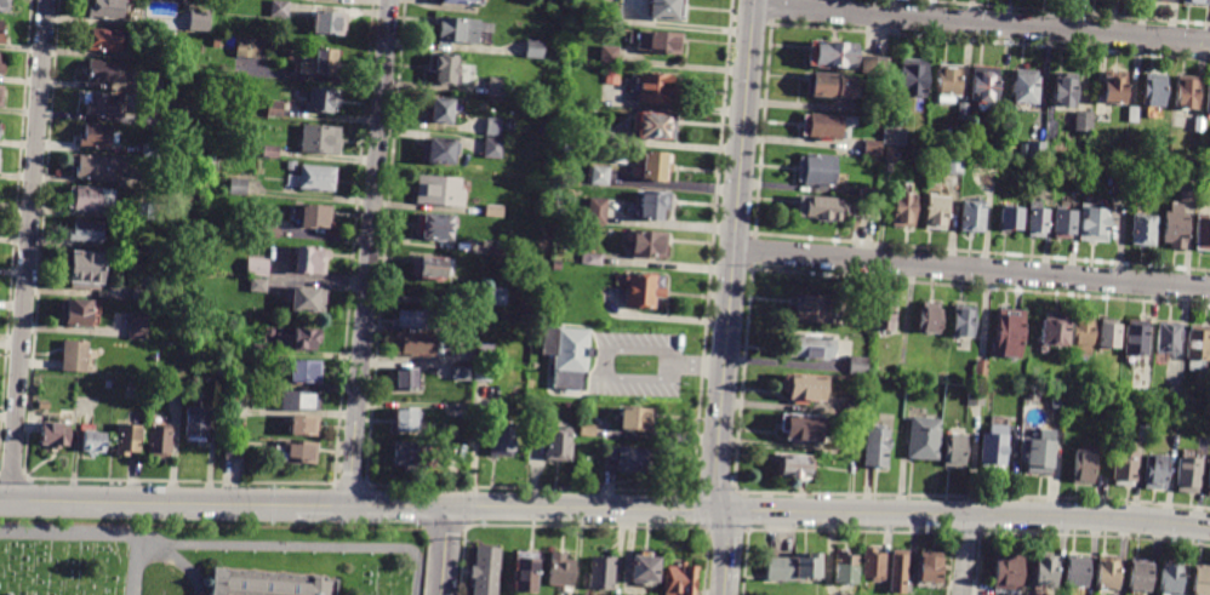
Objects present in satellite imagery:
building: (1164, 0)
building: (453, 2)
building: (1195, 2)
building: (4, 5)
building: (279, 8)
building: (105, 10)
building: (668, 11)
building: (613, 15)
building: (199, 21)
road: (982, 23)
building: (329, 25)
building: (460, 30)
building: (1, 34)
building: (104, 40)
building: (216, 42)
building: (658, 42)
building: (249, 48)
building: (533, 48)
building: (570, 53)
building: (609, 55)
building: (832, 57)
building: (325, 62)
building: (874, 65)
building: (1, 68)
building: (443, 69)
building: (571, 70)
building: (104, 73)
building: (611, 76)
building: (912, 76)
building: (948, 84)
building: (570, 85)
building: (496, 86)
building: (657, 87)
building: (831, 87)
building: (1028, 88)
building: (1114, 88)
building: (984, 90)
building: (1154, 91)
building: (0, 92)
building: (1063, 92)
building: (1187, 93)
building: (321, 99)
building: (1208, 99)
building: (105, 105)
building: (275, 108)
building: (439, 111)
building: (963, 113)
building: (1132, 114)
building: (176, 119)
building: (1084, 122)
building: (655, 125)
building: (1199, 125)
building: (492, 126)
building: (823, 126)
building: (95, 136)
building: (601, 137)
building: (319, 138)
building: (892, 138)
building: (491, 148)
building: (872, 148)
building: (272, 149)
building: (438, 149)
building: (1035, 149)
building: (149, 150)
building: (891, 155)
building: (954, 162)
building: (291, 165)
building: (652, 165)
building: (98, 167)
building: (817, 170)
building: (600, 175)
building: (315, 177)
building: (238, 187)
building: (1189, 188)
building: (438, 190)
building: (866, 193)
building: (89, 198)
building: (652, 204)
building: (818, 206)
building: (904, 210)
building: (144, 211)
building: (493, 211)
building: (597, 211)
building: (864, 211)
building: (936, 212)
building: (313, 216)
building: (972, 217)
building: (1010, 218)
building: (1039, 219)
building: (1065, 222)
building: (1094, 223)
building: (433, 225)
building: (1176, 228)
building: (269, 229)
building: (1145, 229)
building: (86, 231)
building: (1203, 233)
building: (646, 242)
road: (27, 248)
building: (491, 248)
road: (369, 251)
road: (731, 254)
building: (590, 258)
building: (309, 259)
building: (555, 265)
building: (198, 267)
building: (256, 267)
building: (429, 267)
building: (86, 269)
road: (971, 269)
building: (257, 285)
building: (644, 290)
building: (139, 293)
building: (496, 296)
building: (304, 298)
building: (814, 308)
building: (76, 313)
building: (883, 314)
building: (526, 317)
building: (929, 317)
building: (416, 319)
building: (961, 320)
building: (137, 326)
building: (1054, 331)
building: (1008, 333)
building: (1081, 336)
building: (1106, 337)
building: (1136, 338)
building: (1169, 338)
building: (297, 339)
building: (417, 344)
building: (1198, 344)
building: (810, 345)
building: (259, 350)
road: (656, 350)
building: (483, 353)
building: (567, 355)
building: (74, 356)
road: (605, 362)
road: (697, 365)
building: (536, 366)
building: (857, 366)
building: (218, 371)
building: (304, 371)
building: (462, 371)
building: (481, 372)
building: (902, 373)
building: (978, 373)
road: (632, 378)
building: (406, 379)
building: (72, 384)
building: (108, 385)
building: (230, 387)
building: (804, 387)
building: (1140, 389)
building: (1175, 395)
building: (230, 397)
building: (975, 397)
building: (299, 400)
building: (1034, 401)
building: (854, 406)
building: (461, 411)
building: (637, 418)
building: (406, 420)
building: (196, 422)
building: (303, 424)
building: (800, 427)
building: (587, 430)
building: (228, 433)
building: (1142, 433)
building: (53, 434)
building: (924, 437)
building: (127, 439)
building: (502, 439)
building: (92, 441)
building: (1174, 441)
building: (158, 442)
building: (558, 445)
building: (850, 446)
building: (877, 447)
building: (993, 447)
building: (233, 450)
building: (955, 450)
building: (295, 452)
building: (1039, 453)
building: (410, 457)
building: (629, 458)
building: (794, 467)
building: (1083, 467)
building: (1123, 469)
building: (1154, 471)
building: (1187, 475)
building: (1209, 480)
road: (175, 499)
road: (399, 503)
traffic signals: (447, 504)
road: (464, 504)
road: (583, 507)
traffic signals: (719, 509)
road: (964, 513)
road: (210, 539)
park: (218, 547)
road: (725, 548)
road: (443, 549)
road: (964, 554)
road: (136, 565)
building: (874, 565)
building: (794, 568)
building: (560, 570)
building: (646, 570)
building: (845, 570)
building: (1045, 570)
building: (485, 571)
building: (1008, 571)
building: (1075, 571)
building: (603, 572)
building: (929, 572)
road: (417, 573)
building: (901, 573)
building: (1107, 573)
building: (1140, 574)
building: (525, 576)
building: (1171, 578)
building: (679, 579)
building: (1200, 580)
building: (267, 584)
road: (721, 591)

